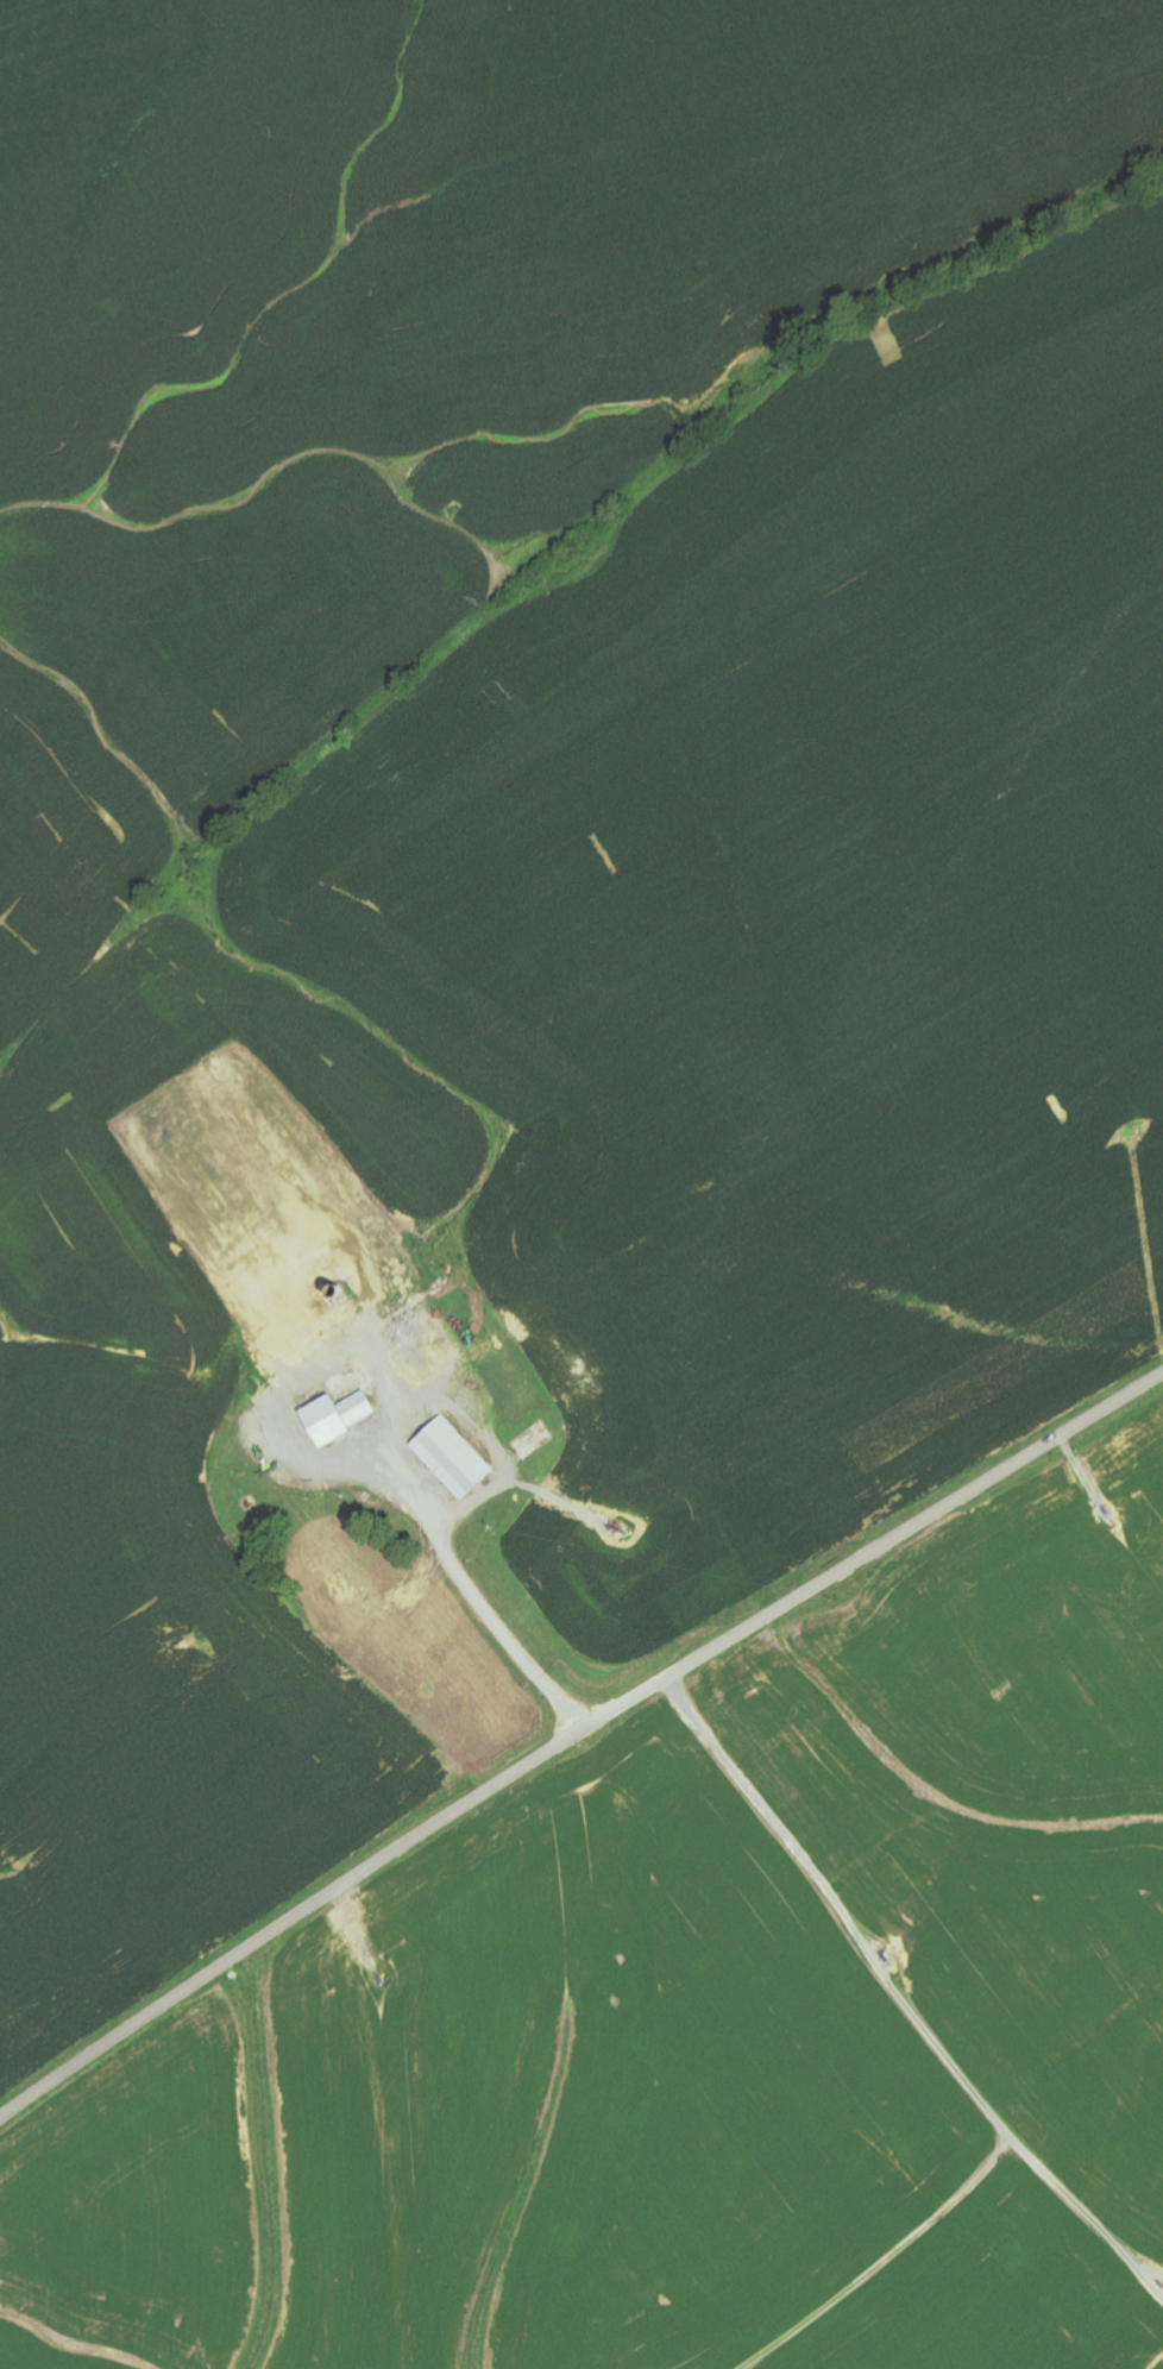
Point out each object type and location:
building: (258, 1278)
building: (309, 1318)
building: (335, 1416)
building: (452, 1457)
road: (484, 1617)
road: (573, 1736)

